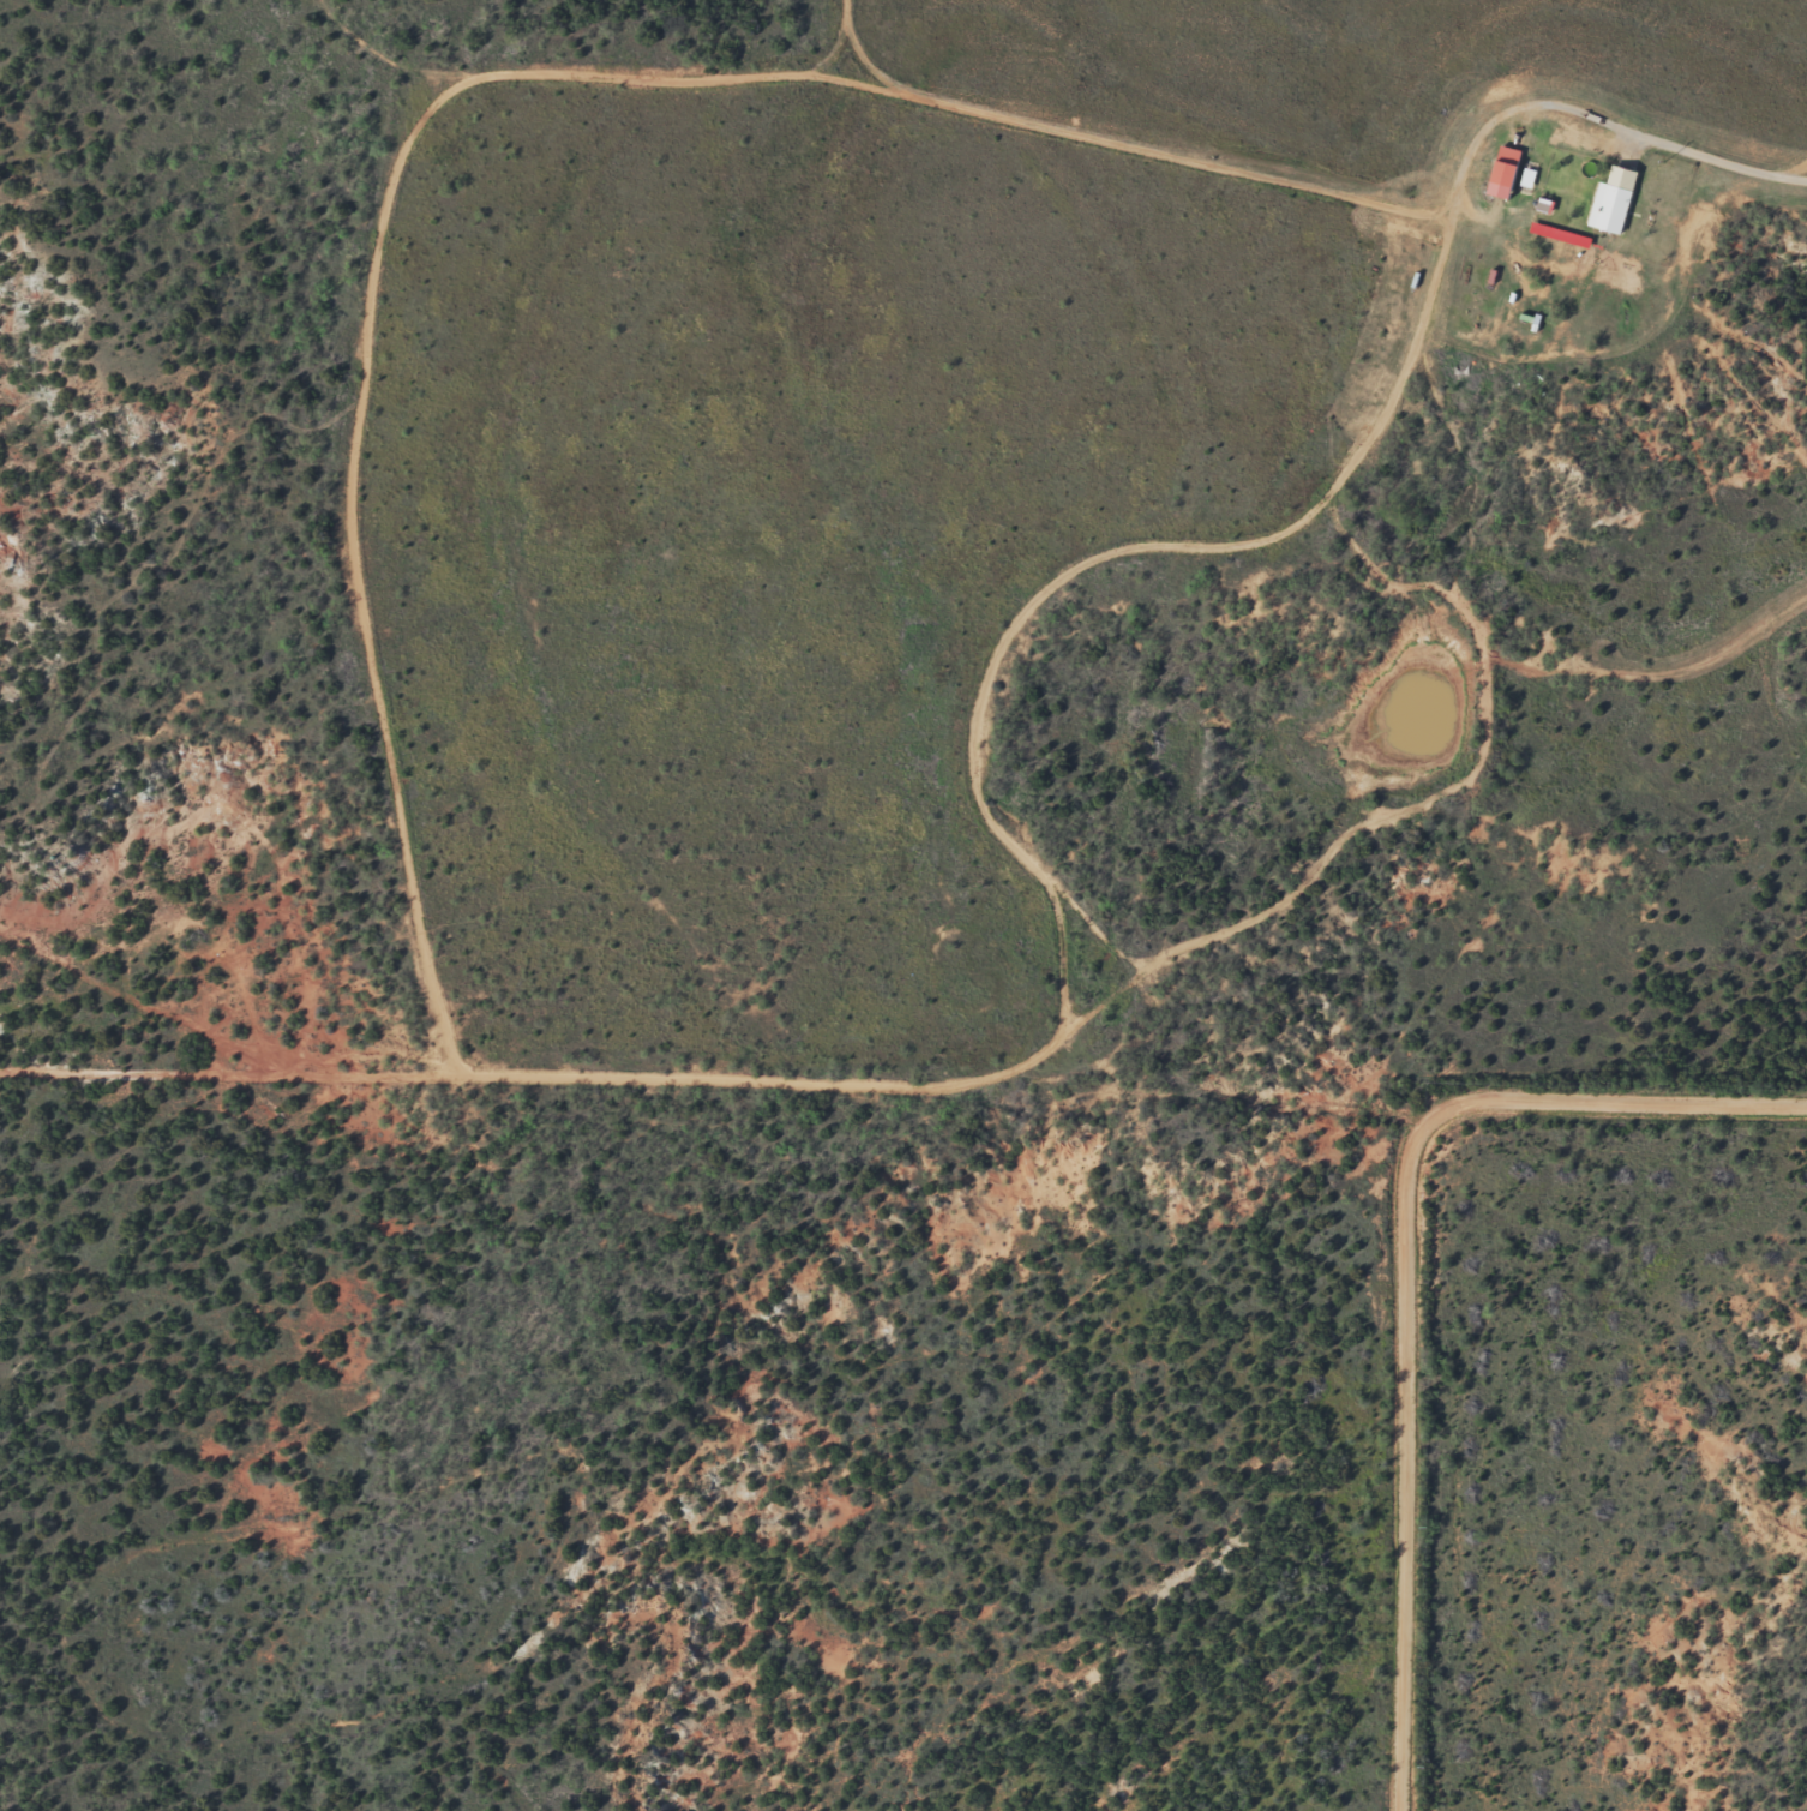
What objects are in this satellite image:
building: (1512, 174)
building: (1607, 211)
road: (722, 1272)
road: (1407, 1272)

